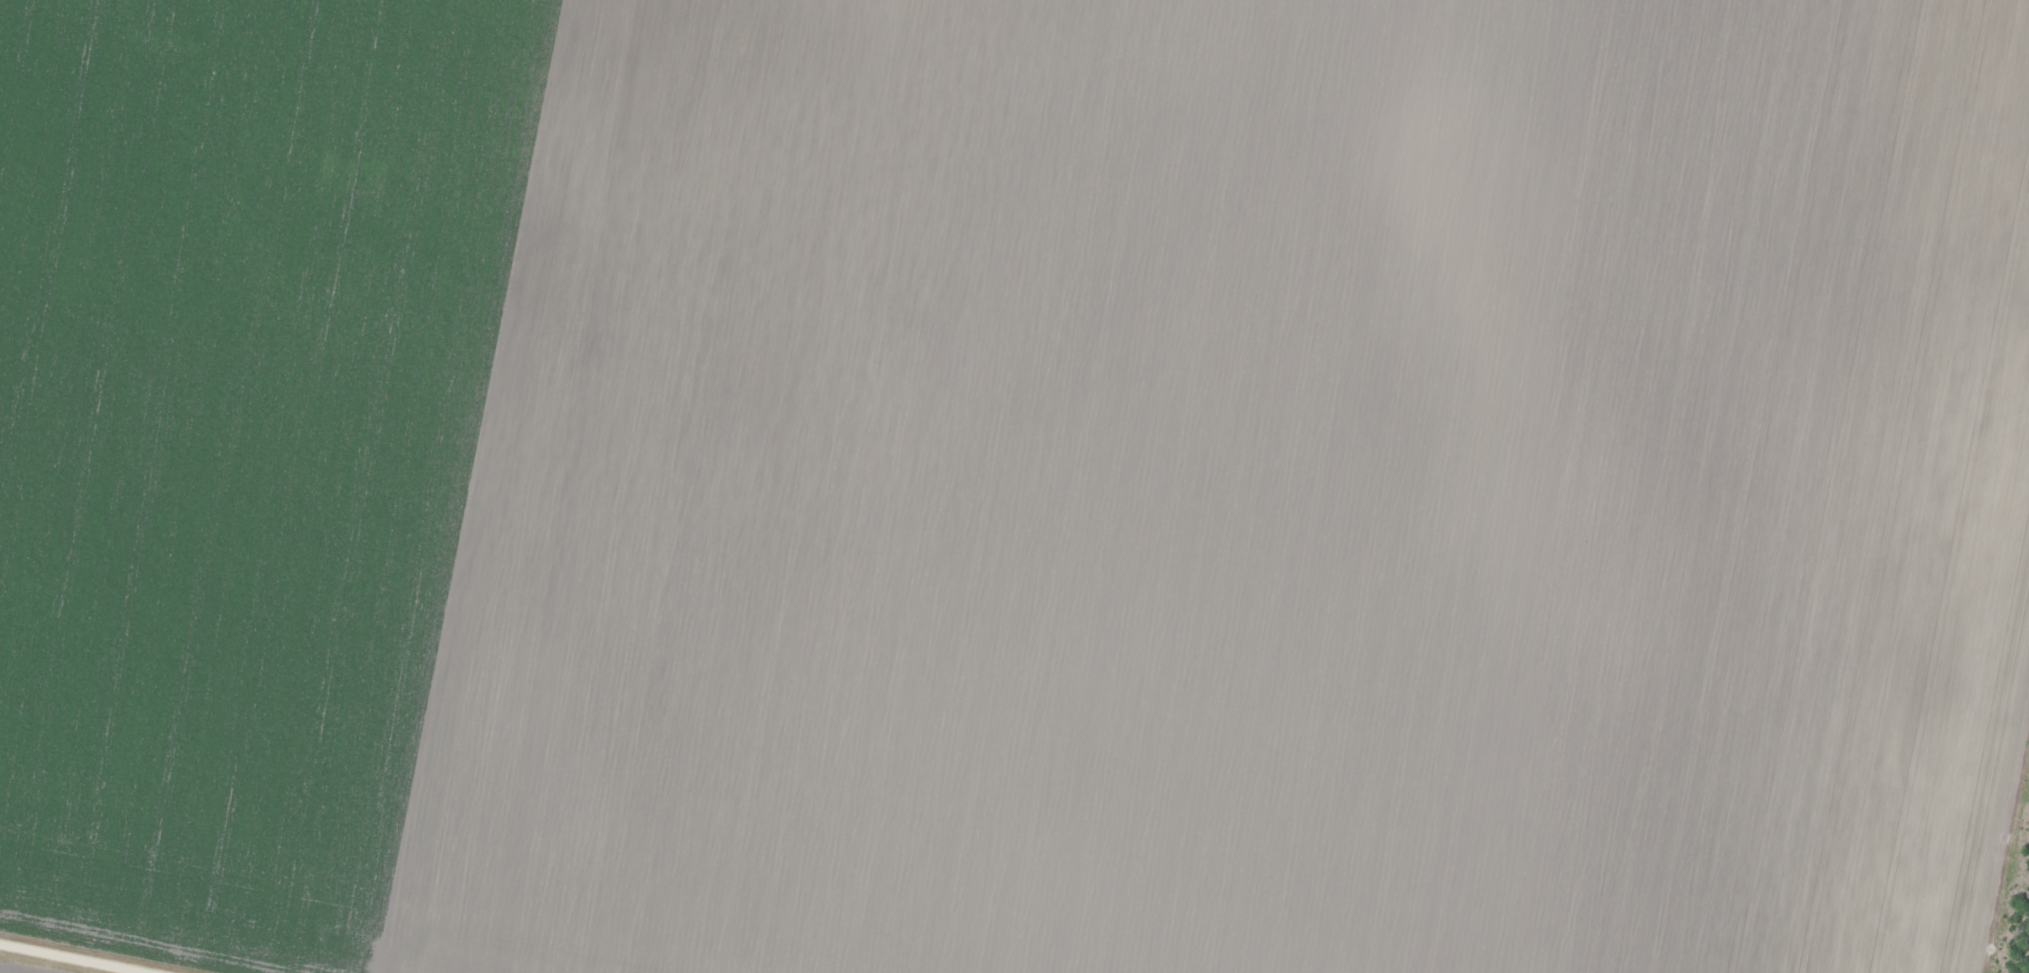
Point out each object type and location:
road: (57, 961)

